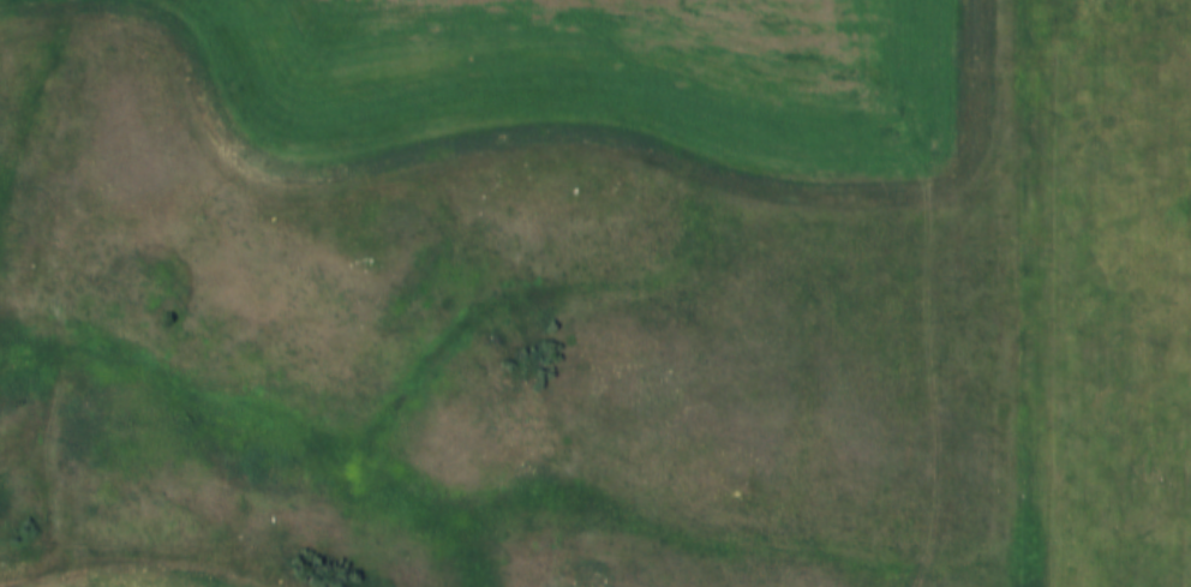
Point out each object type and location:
park: (1105, 293)

